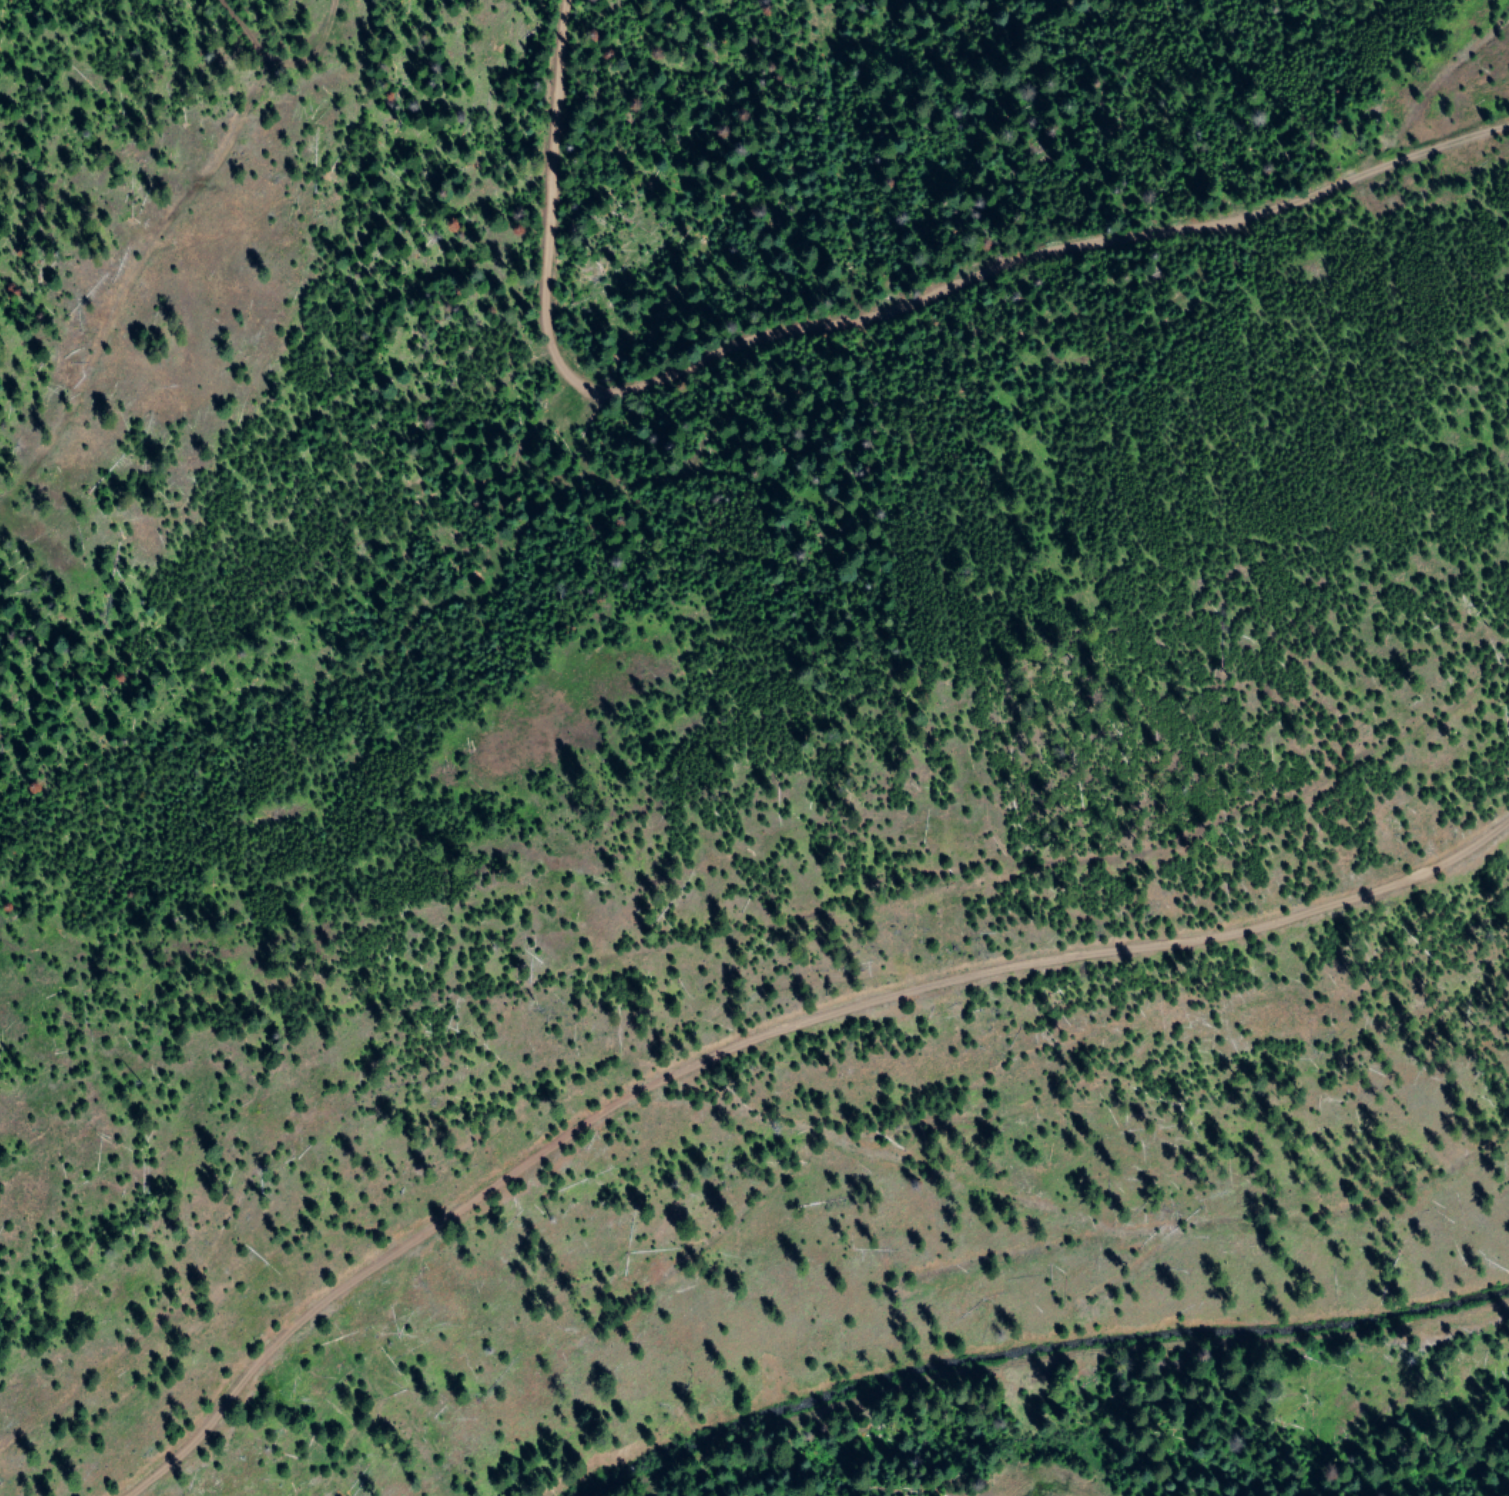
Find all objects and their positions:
road: (1096, 62)
road: (866, 317)
road: (727, 1045)

